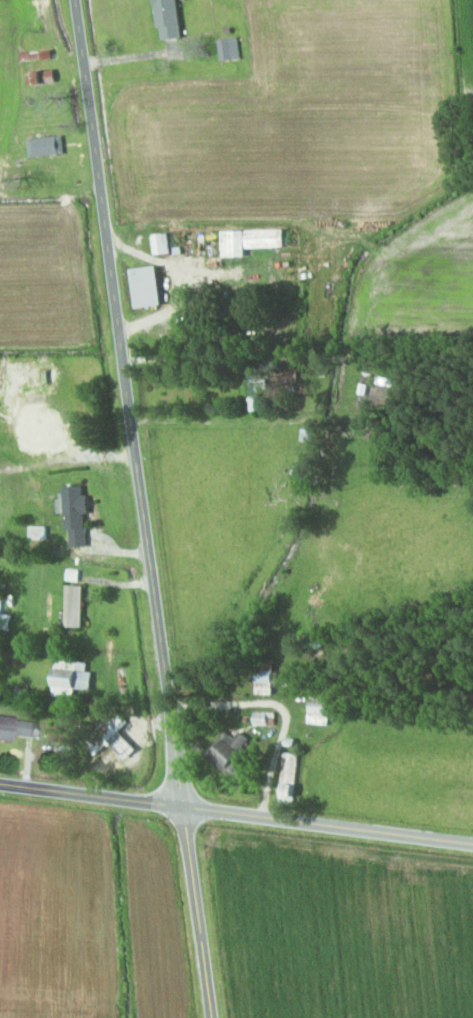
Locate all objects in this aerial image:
building: (37, 15)
building: (169, 19)
building: (229, 49)
building: (37, 55)
building: (43, 77)
building: (45, 146)
building: (249, 241)
building: (160, 245)
building: (201, 262)
building: (147, 288)
building: (252, 303)
building: (255, 392)
building: (37, 425)
building: (40, 487)
road: (143, 509)
building: (75, 514)
building: (37, 533)
building: (75, 606)
building: (5, 621)
building: (72, 675)
building: (266, 676)
building: (320, 706)
building: (264, 719)
building: (16, 728)
building: (63, 736)
building: (116, 737)
building: (229, 751)
building: (288, 778)
road: (236, 813)

